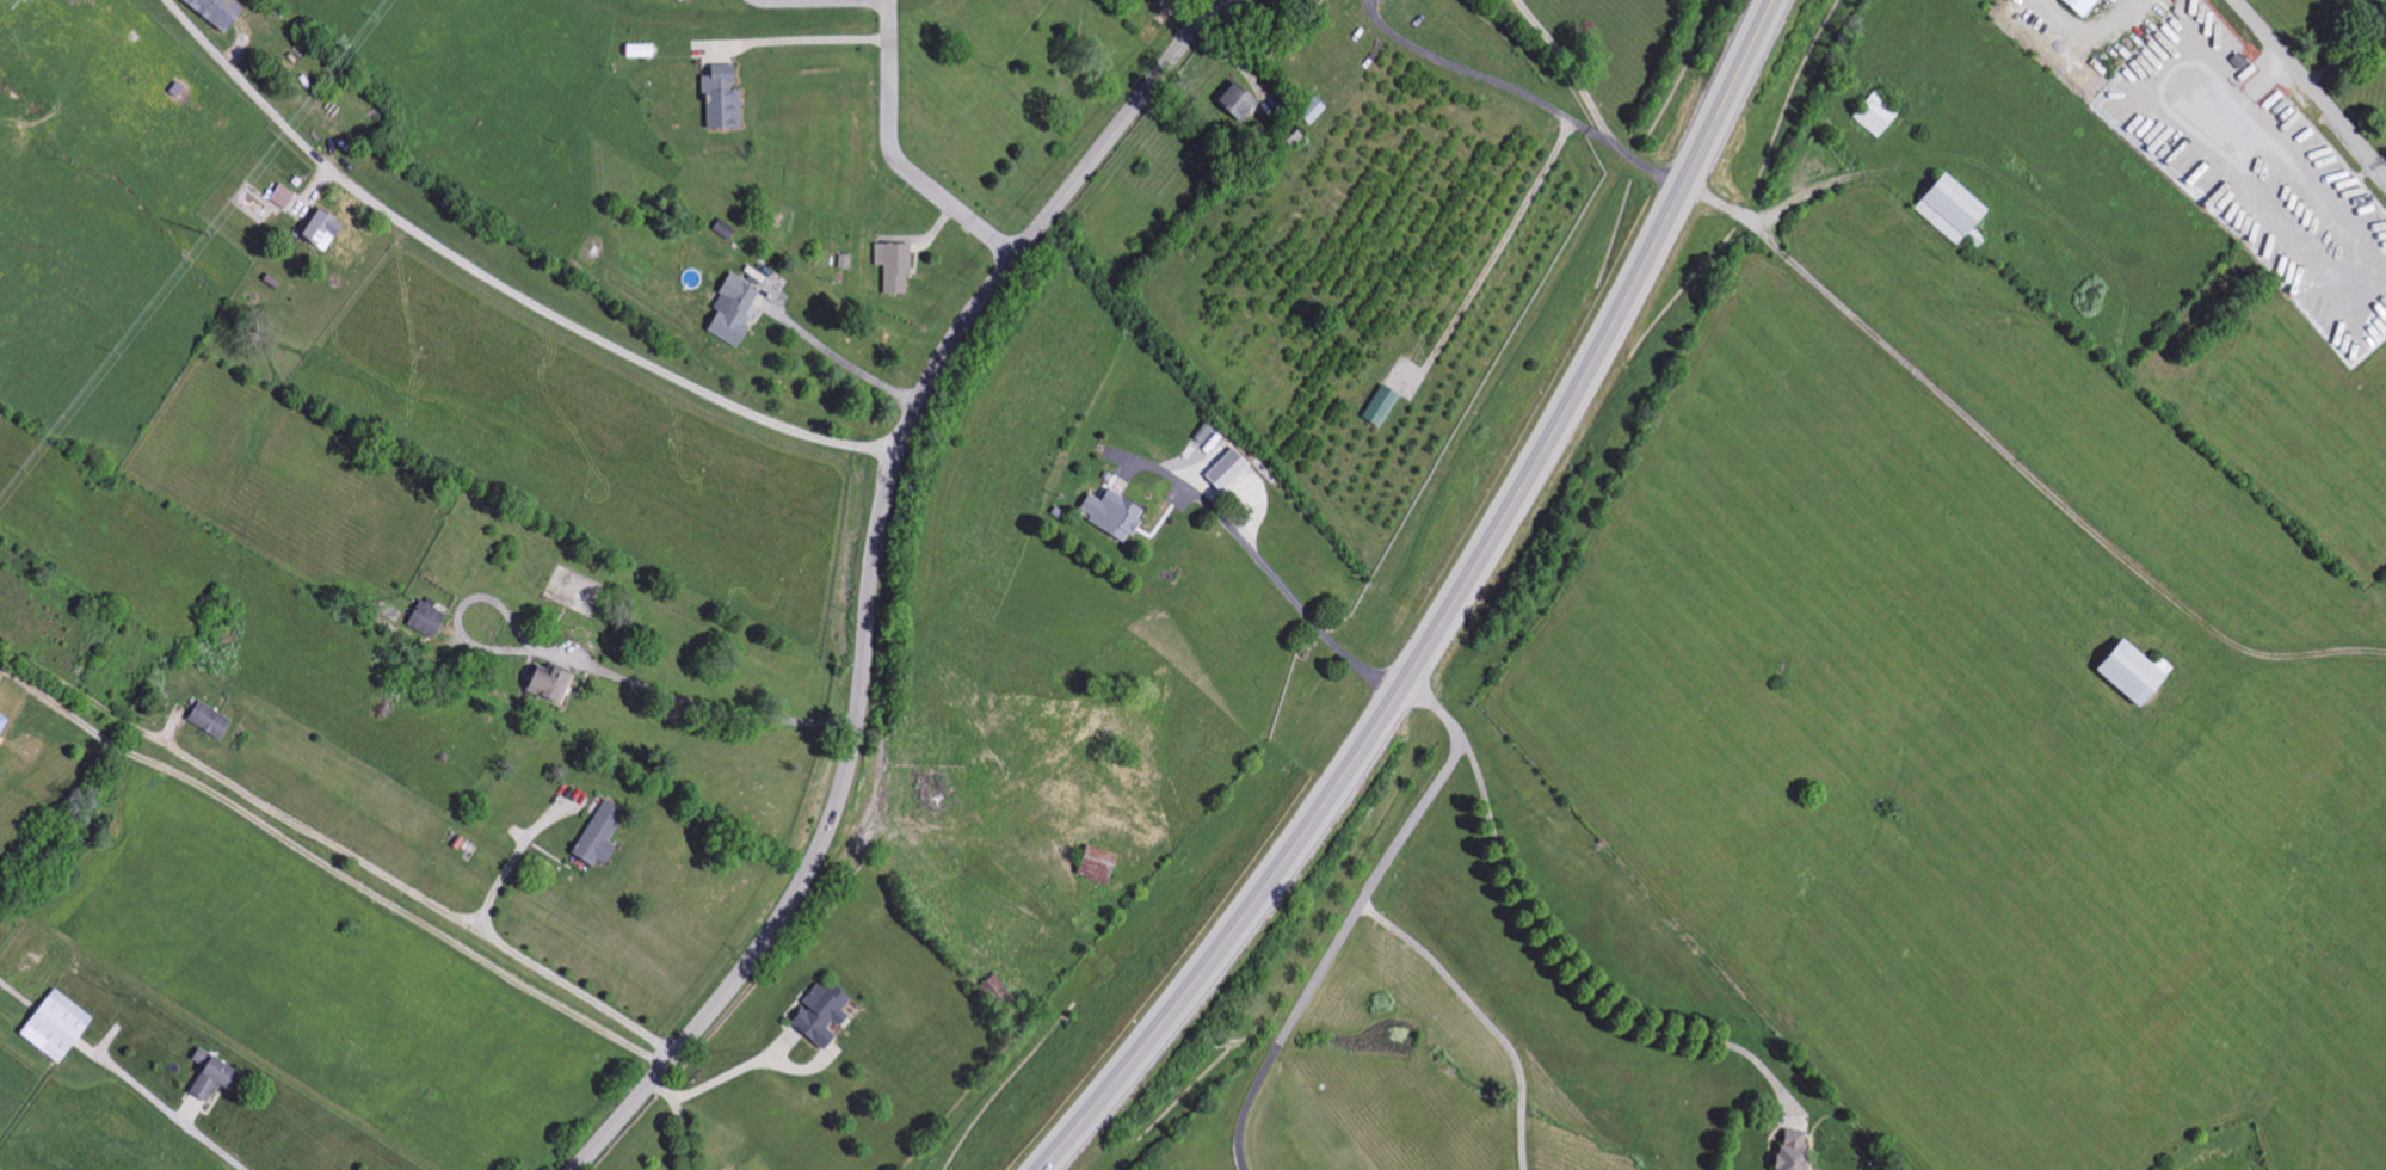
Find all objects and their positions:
building: (2109, 0)
road: (815, 5)
building: (2076, 6)
building: (212, 12)
road: (2091, 31)
road: (795, 44)
road: (2344, 55)
road: (1484, 79)
road: (2311, 87)
building: (717, 98)
building: (1234, 103)
road: (1587, 105)
building: (1309, 111)
road: (893, 158)
building: (279, 197)
building: (1947, 208)
building: (317, 229)
building: (890, 266)
road: (499, 279)
building: (729, 309)
road: (836, 358)
building: (1377, 406)
road: (2017, 467)
building: (1223, 470)
building: (1112, 516)
road: (870, 573)
road: (1268, 578)
road: (1448, 611)
road: (591, 666)
building: (2128, 672)
building: (544, 684)
building: (1, 720)
building: (205, 721)
building: (596, 835)
building: (1093, 864)
road: (356, 887)
road: (1350, 915)
road: (1566, 967)
road: (544, 972)
building: (818, 1015)
road: (1476, 1016)
building: (53, 1027)
road: (733, 1071)
building: (206, 1076)
road: (167, 1111)
road: (678, 1121)
building: (1789, 1151)

